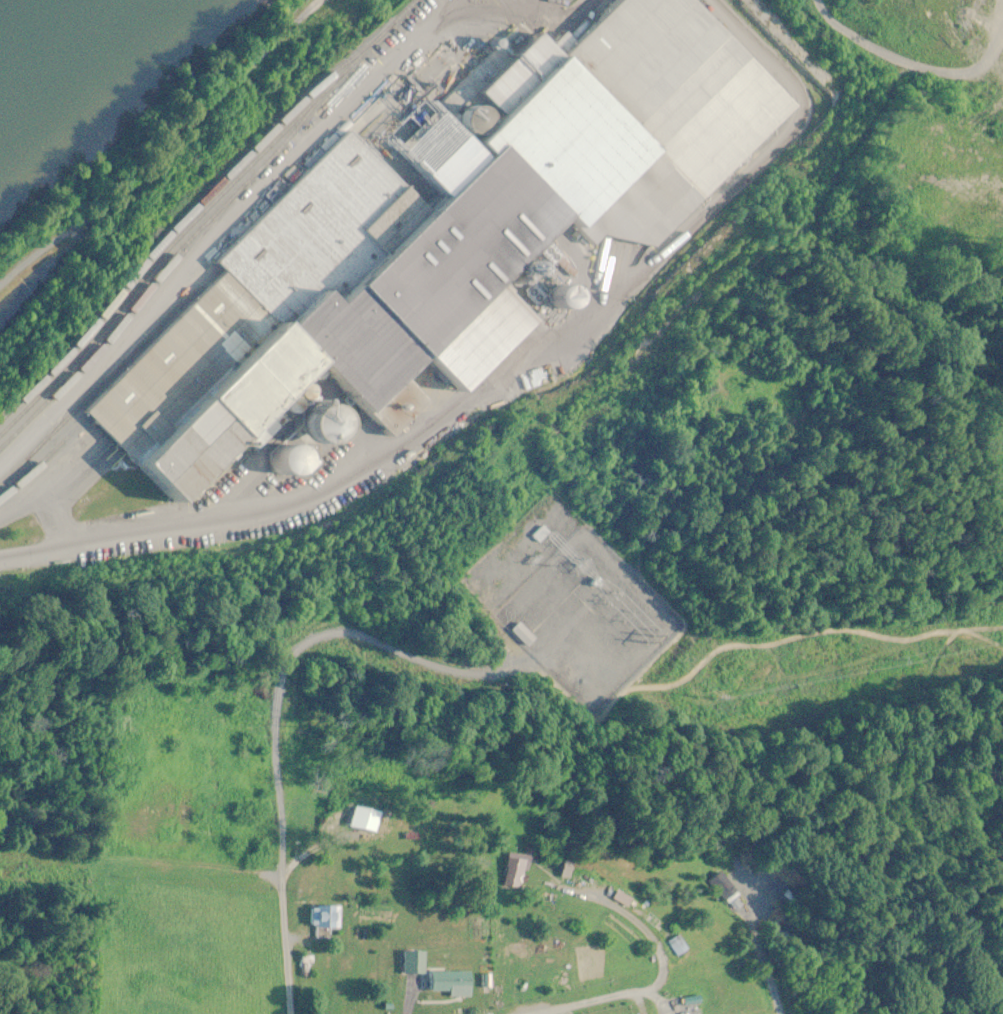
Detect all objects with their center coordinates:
building: (567, 0)
railway: (195, 206)
railway: (203, 210)
building: (442, 229)
railway: (172, 260)
railway: (145, 307)
railway: (159, 347)
railway: (107, 375)
railway: (46, 457)
road: (238, 521)
power substation: (570, 605)
building: (524, 635)
building: (402, 830)
building: (565, 869)
building: (718, 883)
building: (325, 917)
building: (675, 947)
road: (279, 956)
building: (414, 962)
road: (557, 982)
building: (450, 983)

